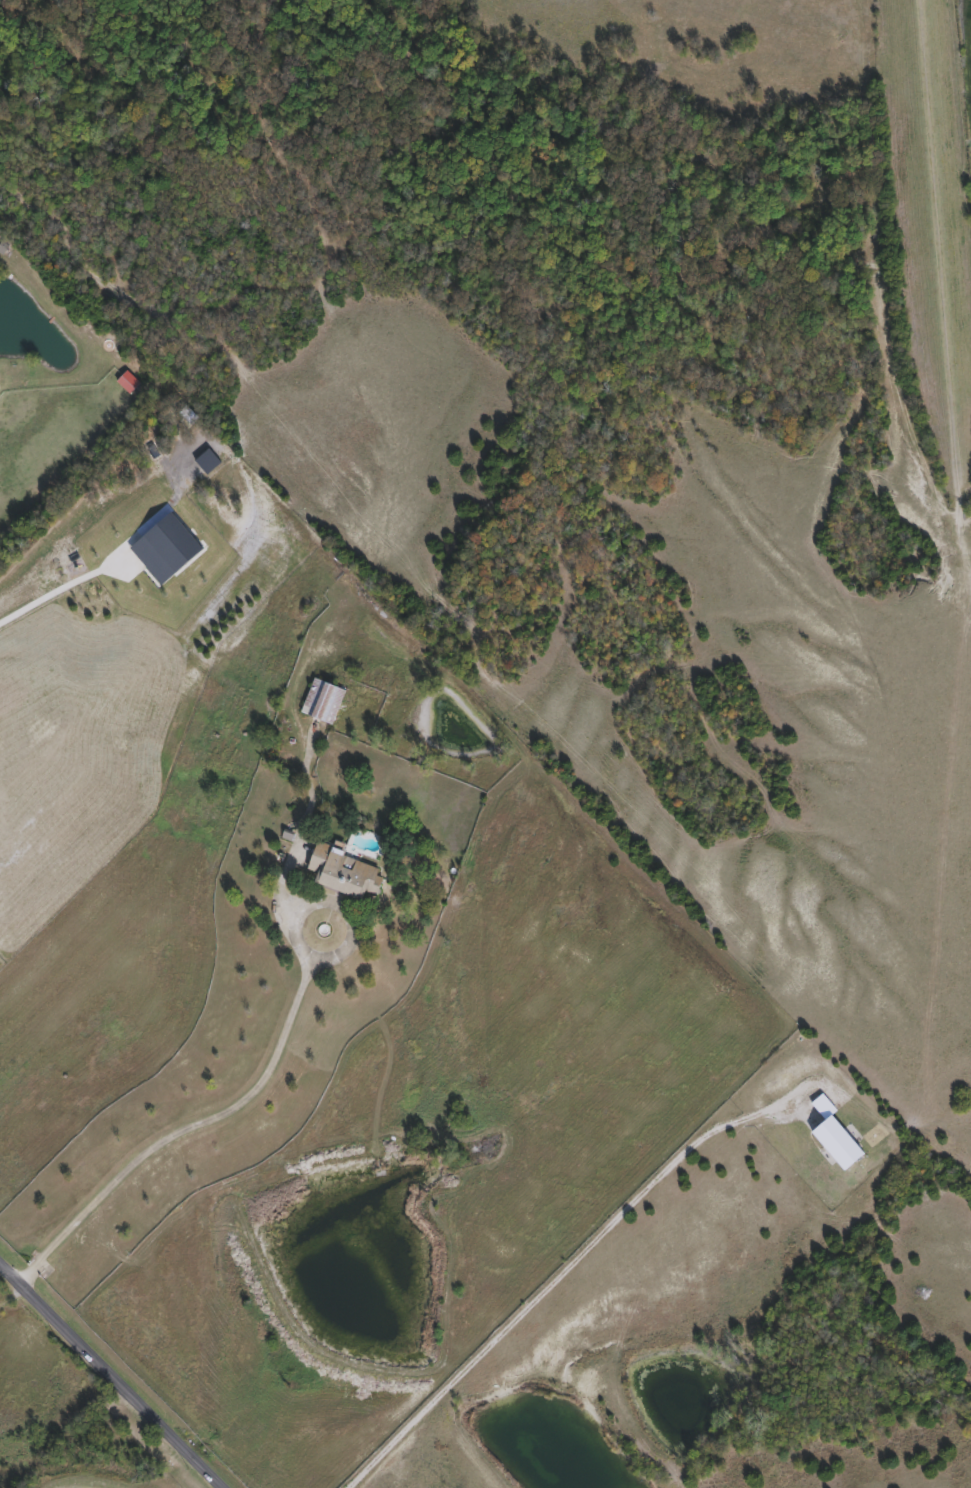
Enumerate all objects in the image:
road: (0, 378)
road: (63, 587)
building: (324, 702)
building: (346, 873)
road: (198, 1124)
road: (554, 1281)
road: (110, 1376)

